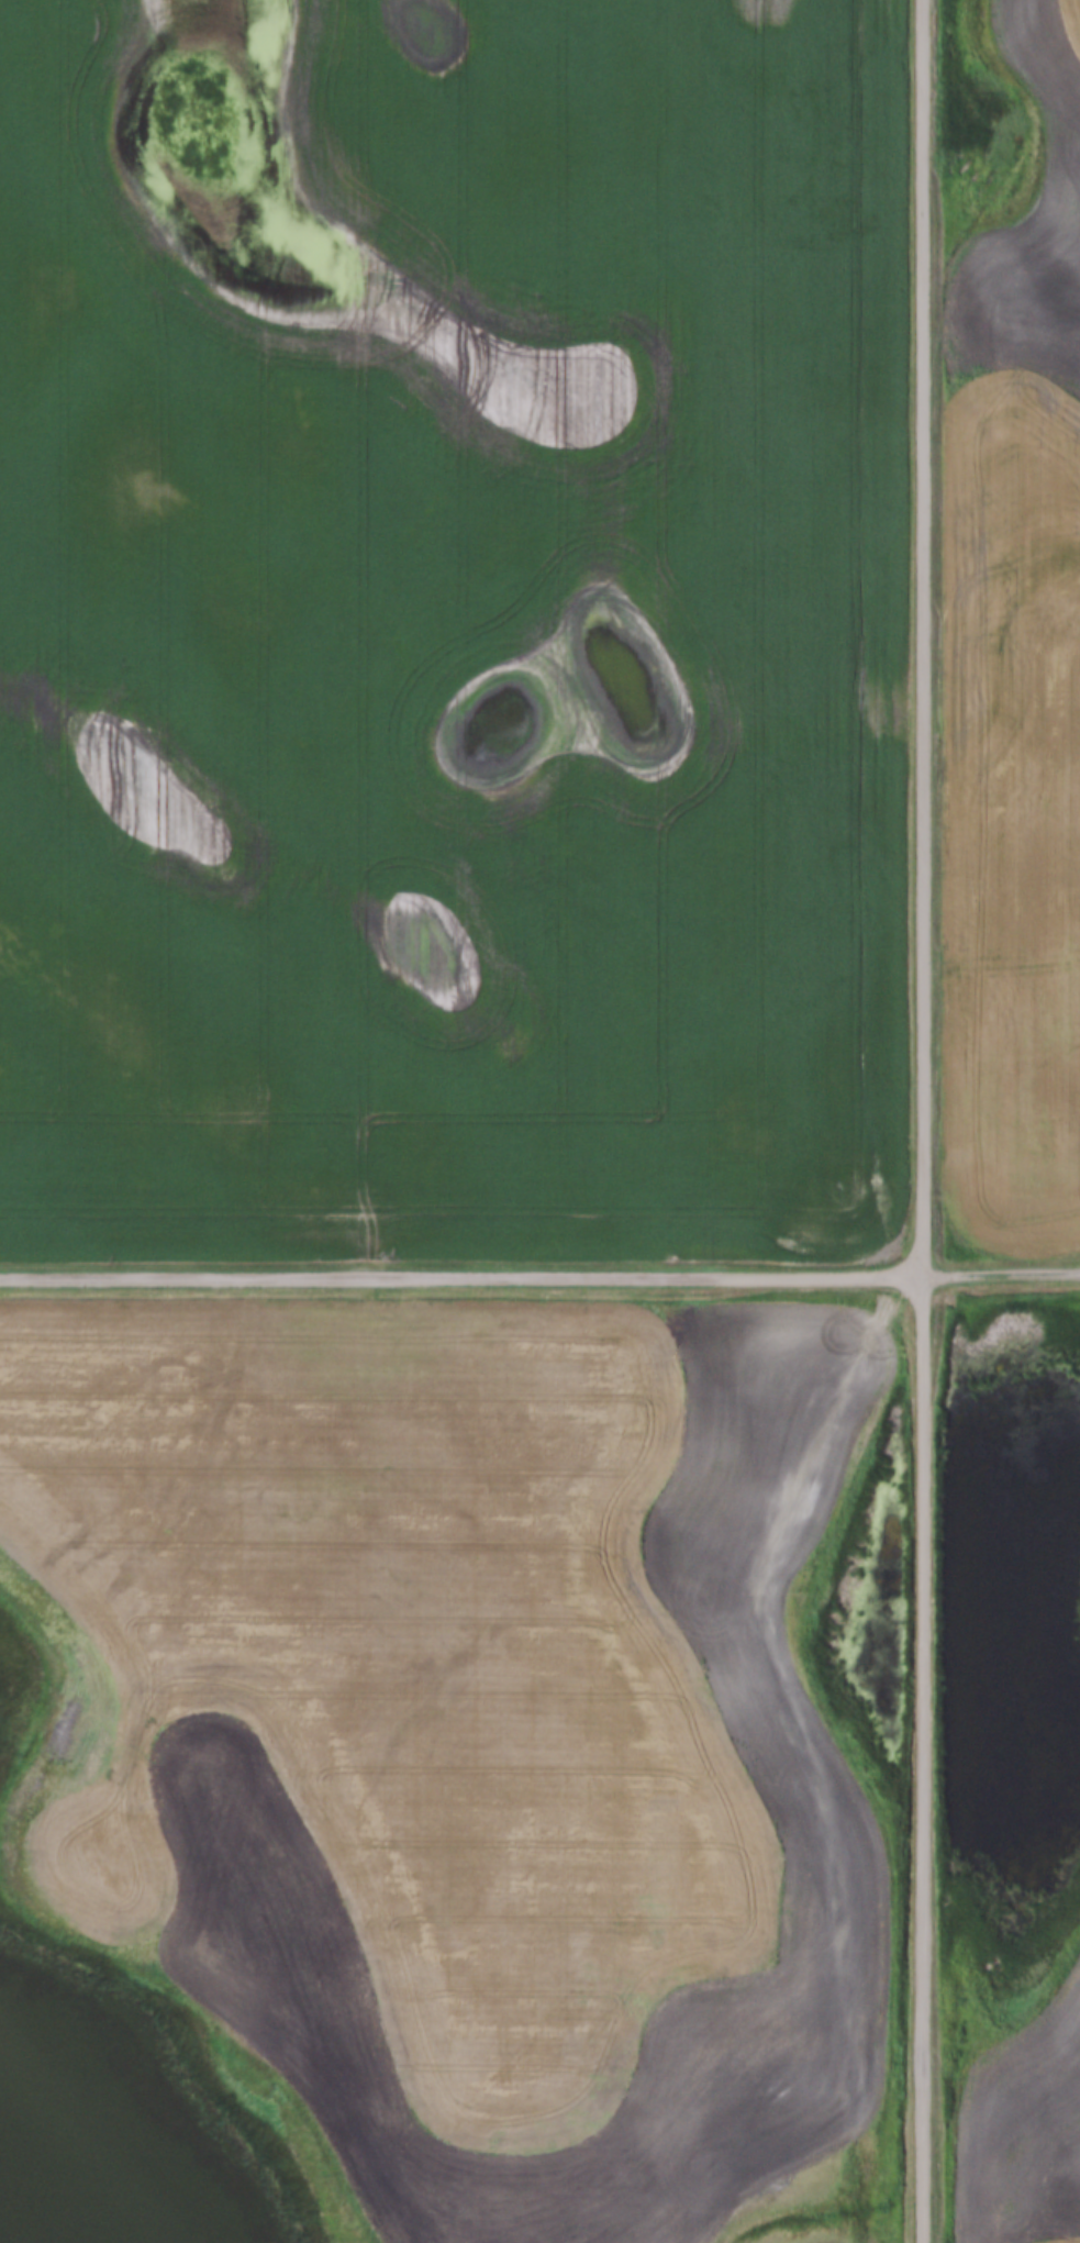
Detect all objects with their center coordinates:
road: (925, 1121)
road: (1002, 1272)
road: (463, 1276)

